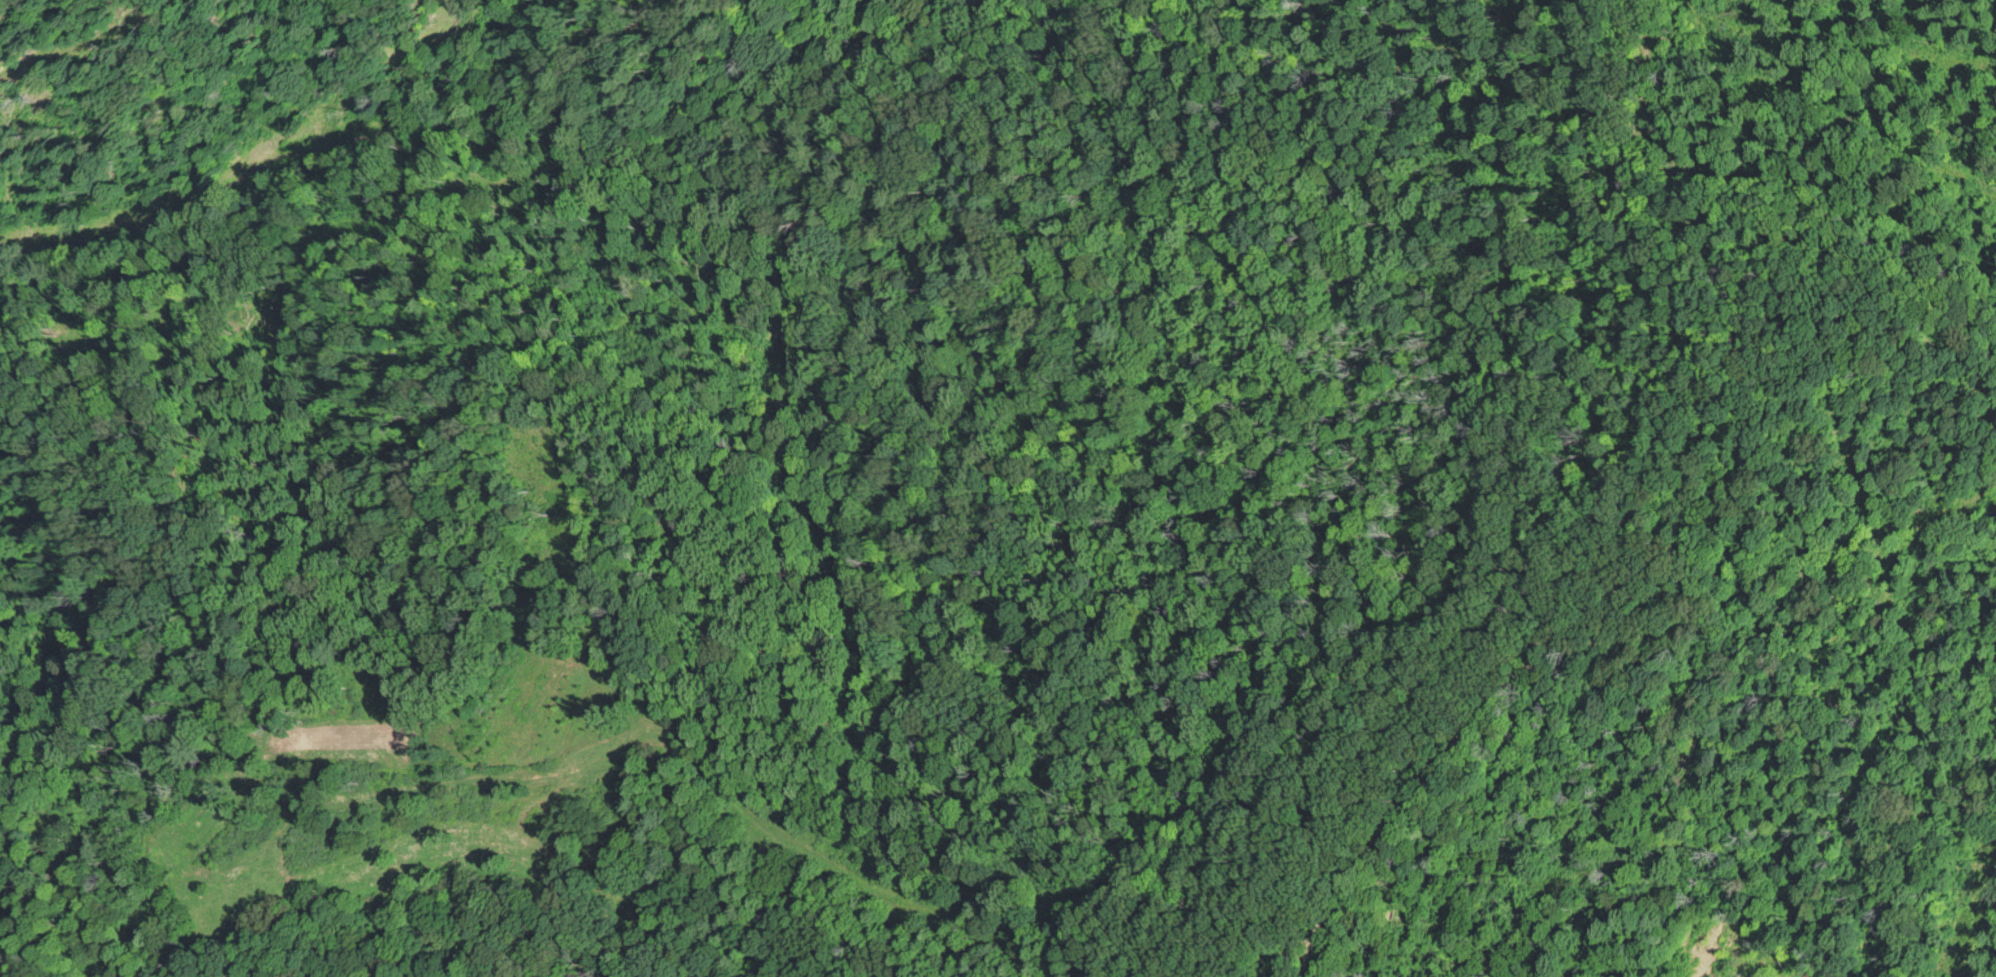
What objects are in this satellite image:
road: (1576, 532)

